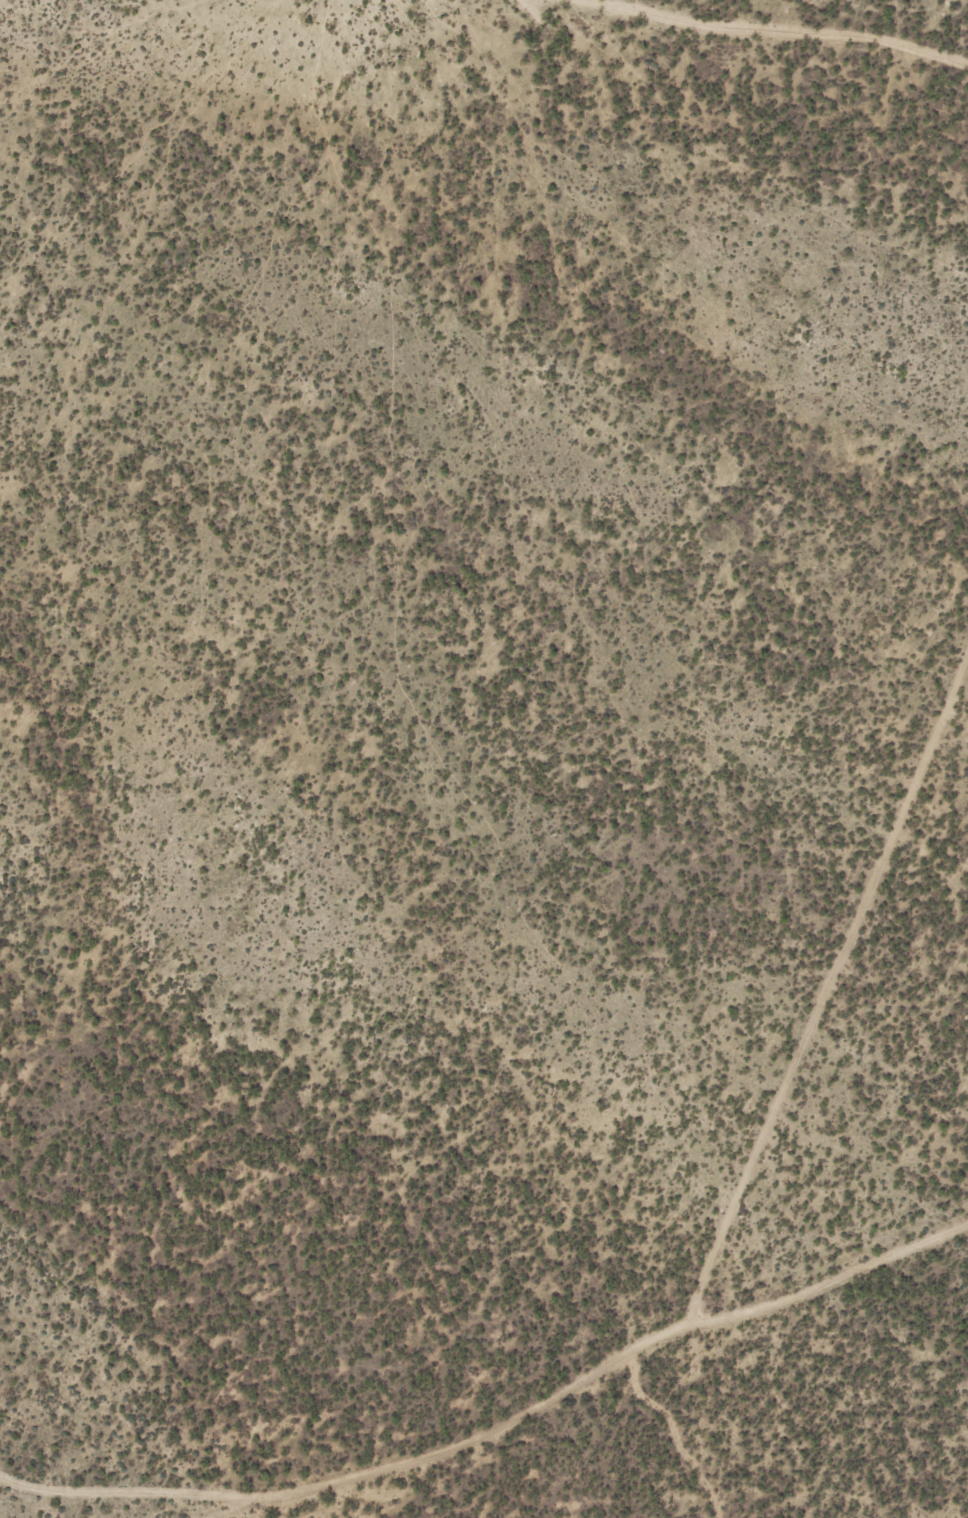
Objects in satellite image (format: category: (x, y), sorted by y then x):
road: (781, 35)
road: (825, 994)
road: (643, 1346)
road: (673, 1434)
road: (275, 1497)

